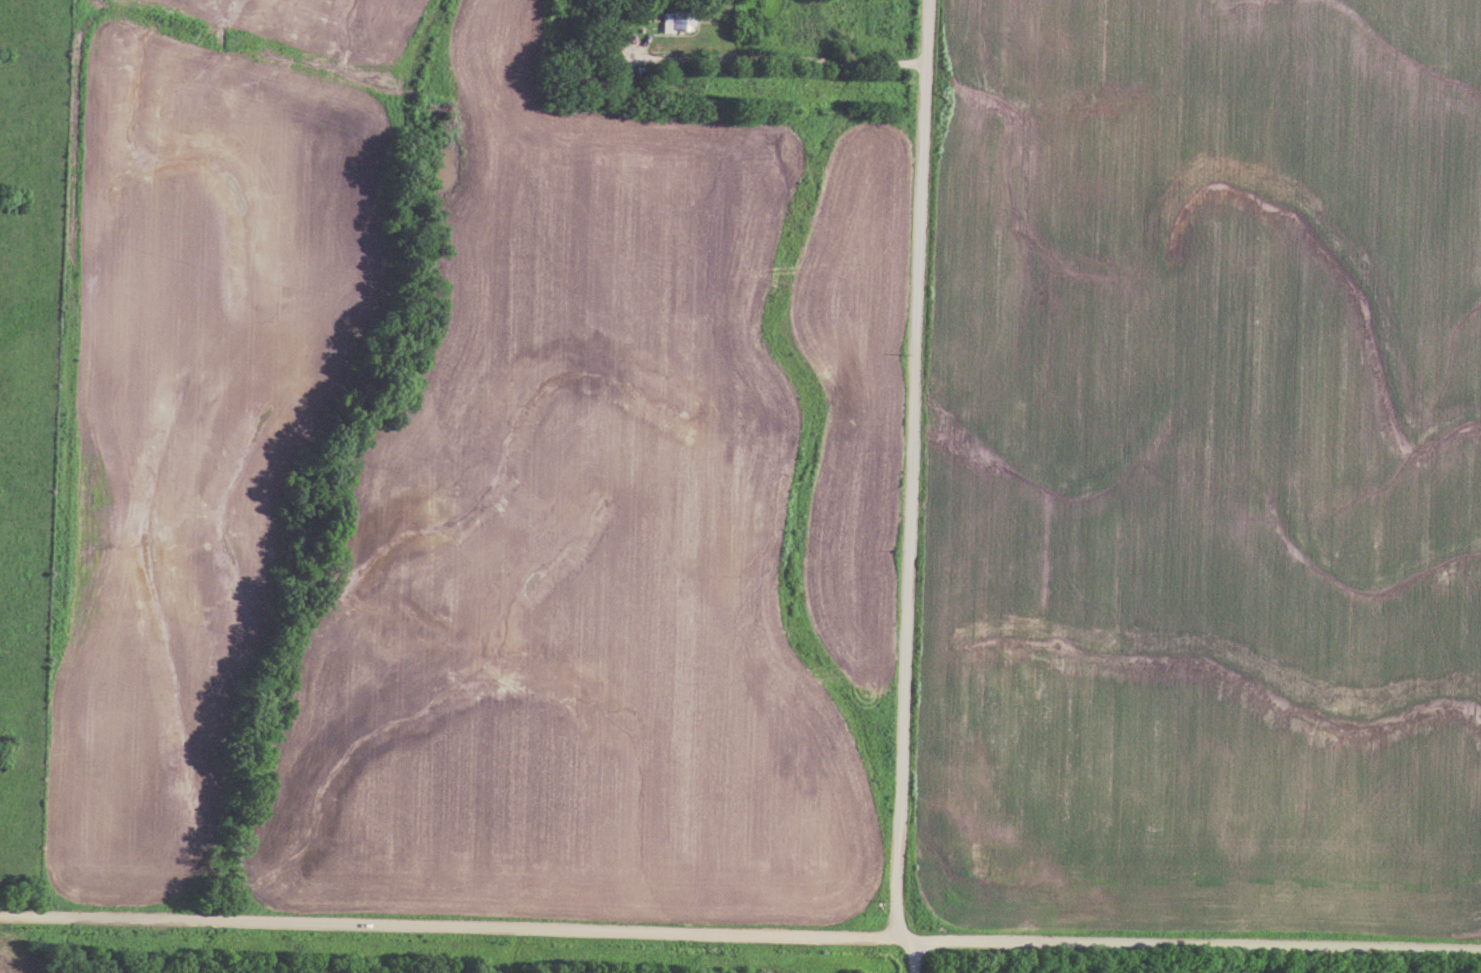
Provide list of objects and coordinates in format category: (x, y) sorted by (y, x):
building: (673, 20)
road: (781, 59)
road: (913, 467)
road: (458, 923)
road: (1198, 942)
road: (915, 956)

